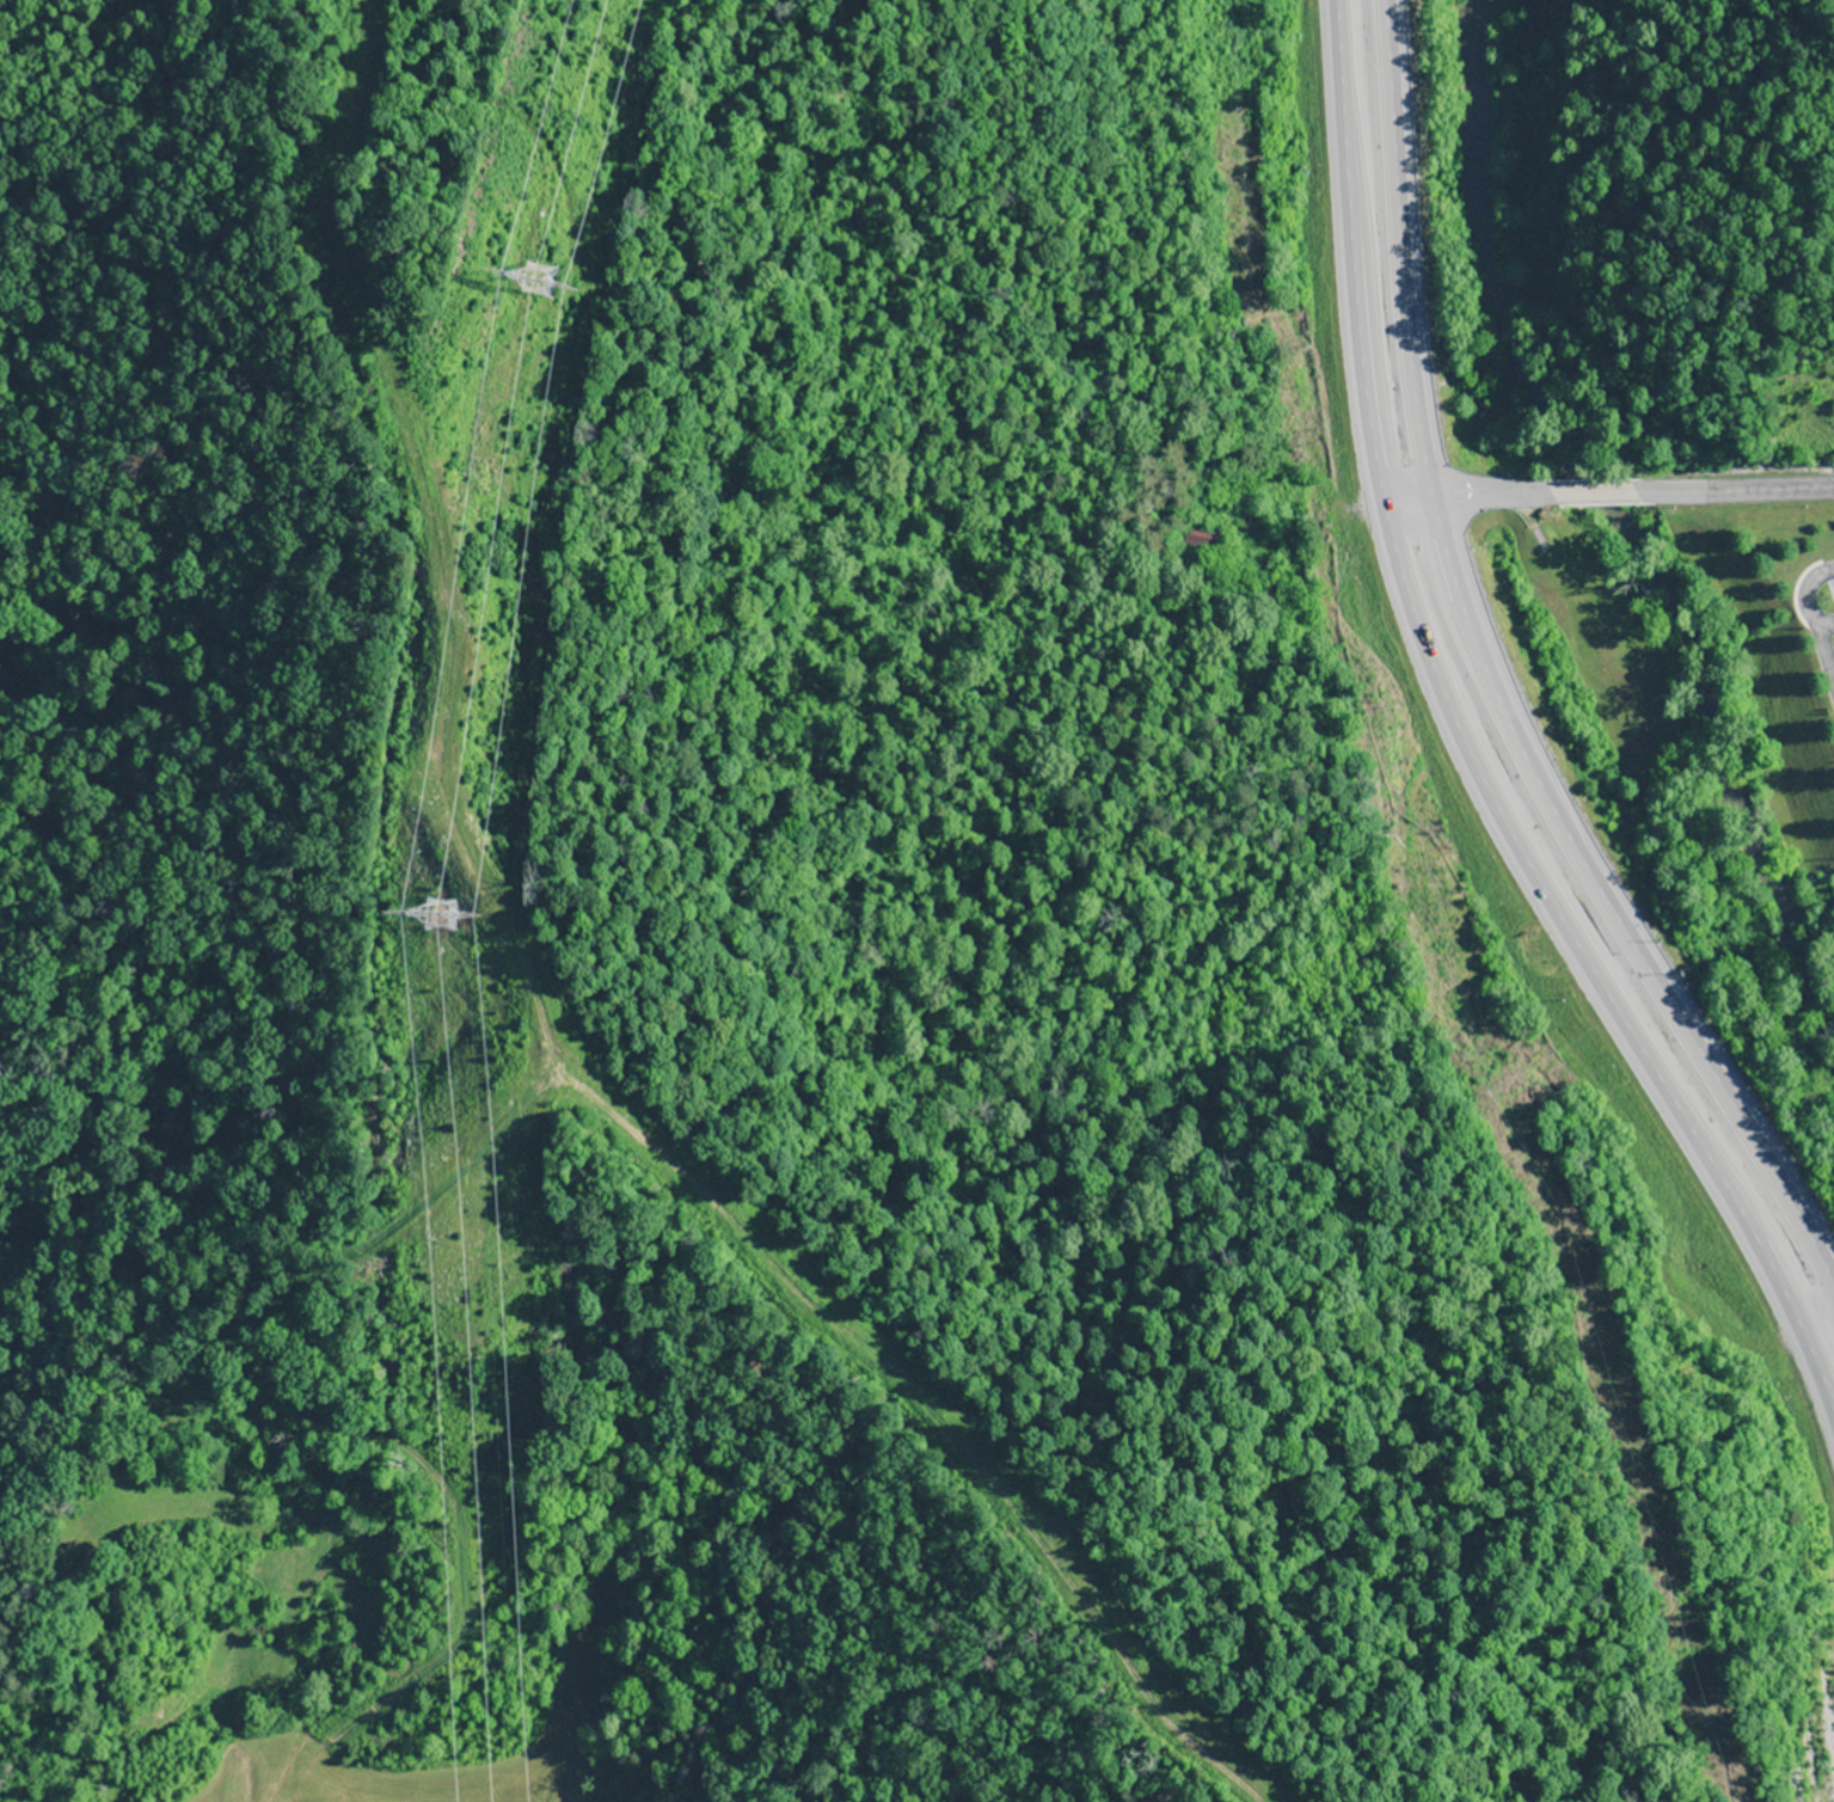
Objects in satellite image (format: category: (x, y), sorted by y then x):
power tower: (540, 313)
road: (1606, 489)
road: (1490, 693)
road: (1465, 752)
power tower: (449, 944)

